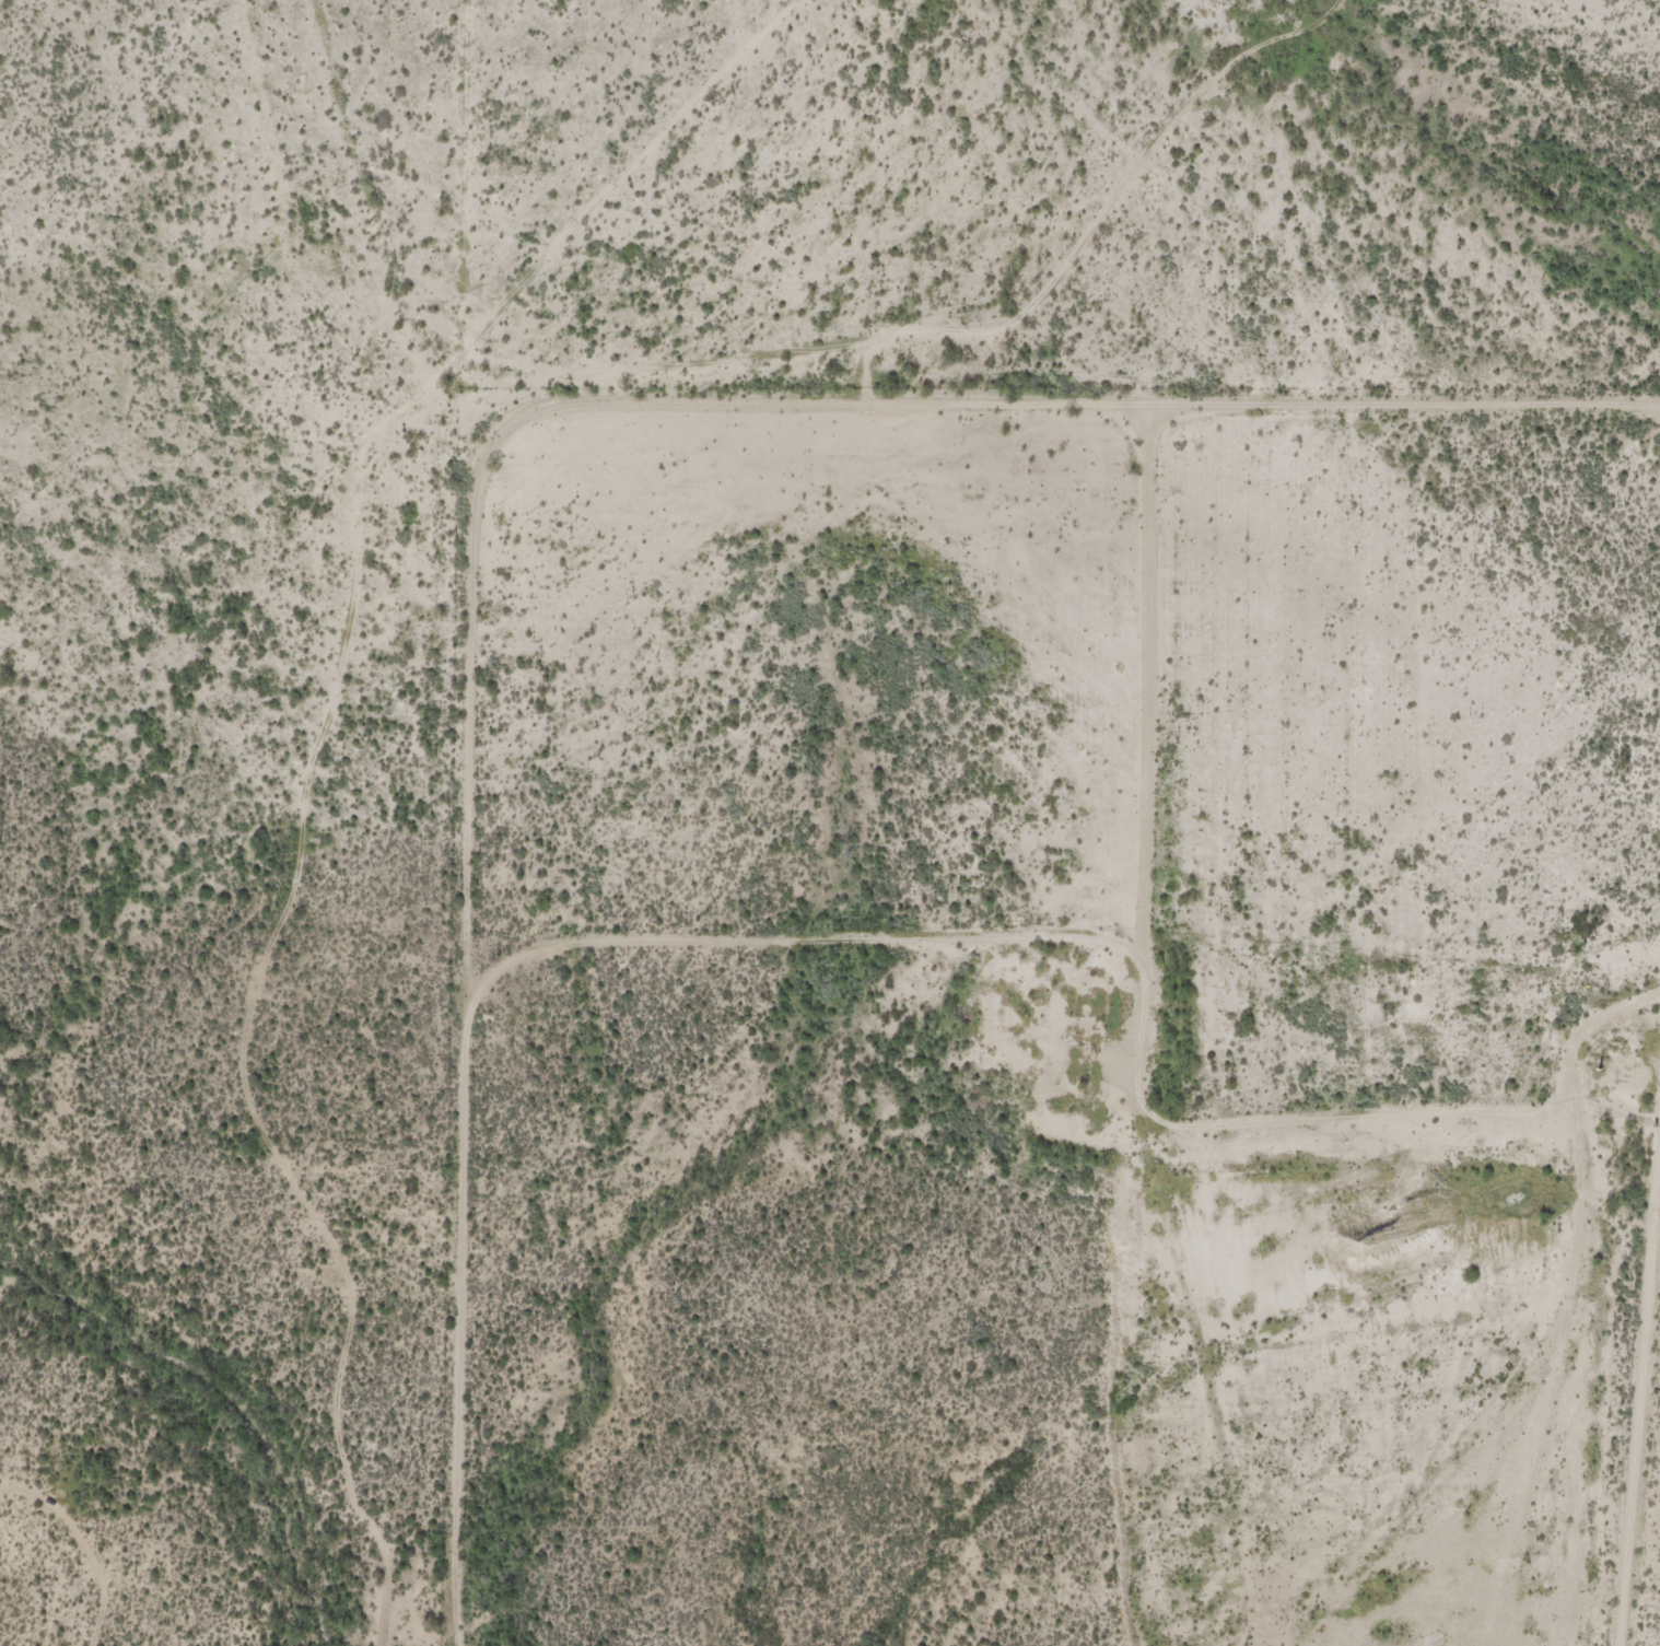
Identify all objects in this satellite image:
road: (486, 444)
road: (1651, 465)
road: (1119, 979)

